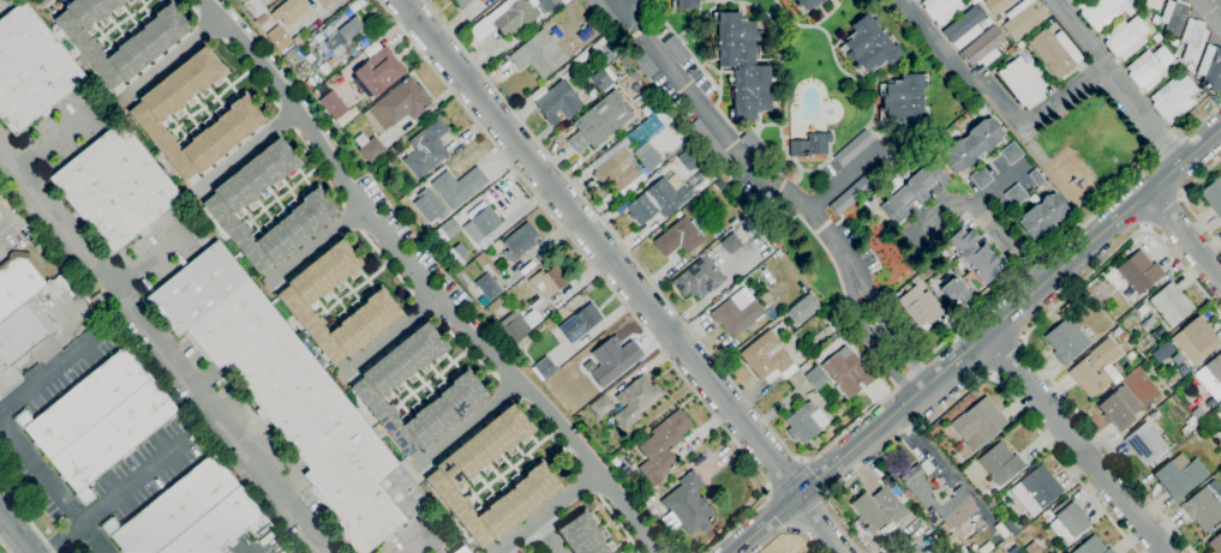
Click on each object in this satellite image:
building: (980, 0)
building: (1073, 0)
building: (327, 2)
building: (462, 2)
building: (544, 4)
building: (686, 4)
building: (808, 4)
building: (1153, 4)
building: (996, 5)
building: (253, 7)
building: (941, 8)
building: (289, 10)
building: (1101, 11)
road: (1211, 11)
road: (626, 12)
building: (604, 13)
building: (1174, 16)
building: (504, 18)
building: (1023, 18)
building: (262, 19)
building: (340, 19)
building: (1155, 19)
building: (988, 22)
building: (999, 22)
building: (1049, 22)
building: (964, 26)
building: (586, 32)
road: (1079, 32)
building: (343, 35)
building: (1125, 37)
building: (1156, 37)
building: (281, 40)
building: (1193, 40)
building: (146, 41)
building: (1174, 42)
building: (870, 44)
building: (1021, 44)
building: (983, 47)
building: (348, 48)
building: (677, 49)
building: (1011, 50)
building: (1054, 52)
building: (539, 54)
road: (174, 59)
building: (330, 62)
building: (644, 62)
building: (743, 66)
building: (324, 67)
building: (1149, 67)
building: (1211, 67)
building: (30, 68)
building: (378, 72)
building: (603, 79)
building: (1024, 80)
building: (310, 83)
road: (994, 94)
building: (1174, 97)
building: (904, 101)
building: (558, 102)
building: (400, 103)
building: (648, 107)
building: (335, 108)
building: (149, 113)
road: (1144, 113)
building: (599, 121)
road: (53, 138)
building: (752, 142)
building: (710, 144)
building: (810, 144)
building: (971, 144)
building: (426, 148)
building: (852, 148)
building: (372, 149)
road: (250, 151)
building: (1010, 152)
building: (647, 156)
building: (690, 158)
building: (617, 170)
road: (843, 175)
building: (1036, 176)
building: (981, 178)
building: (720, 185)
building: (459, 186)
building: (115, 187)
building: (860, 187)
road: (784, 188)
building: (911, 190)
building: (1014, 194)
building: (1214, 194)
building: (657, 200)
road: (1185, 200)
building: (223, 205)
road: (1165, 210)
building: (1042, 216)
road: (994, 223)
building: (481, 224)
road: (5, 226)
building: (429, 227)
building: (445, 230)
building: (681, 235)
road: (1185, 235)
building: (519, 241)
road: (315, 242)
road: (599, 246)
building: (942, 253)
building: (974, 254)
road: (149, 257)
building: (454, 257)
building: (706, 270)
building: (1139, 271)
road: (603, 277)
building: (19, 281)
road: (420, 281)
building: (549, 281)
building: (55, 287)
building: (487, 287)
building: (906, 287)
building: (956, 291)
building: (298, 296)
building: (534, 302)
building: (1171, 303)
building: (921, 307)
building: (803, 309)
building: (736, 313)
building: (40, 314)
building: (580, 323)
building: (519, 324)
building: (831, 324)
road: (391, 332)
road: (1027, 336)
building: (1065, 341)
building: (1193, 342)
building: (17, 343)
road: (977, 344)
road: (164, 345)
building: (1161, 350)
building: (767, 357)
building: (614, 359)
road: (1005, 359)
building: (543, 367)
building: (1096, 368)
building: (848, 373)
road: (48, 374)
building: (816, 377)
building: (1211, 377)
building: (1174, 378)
building: (461, 390)
building: (291, 396)
building: (635, 399)
building: (601, 405)
building: (1119, 408)
building: (98, 420)
building: (806, 421)
road: (469, 422)
building: (977, 426)
building: (1187, 427)
road: (1041, 434)
building: (1145, 443)
road: (1076, 444)
building: (663, 446)
road: (784, 446)
building: (615, 462)
building: (1000, 463)
building: (628, 471)
building: (1179, 475)
building: (537, 481)
road: (136, 482)
building: (1036, 489)
road: (52, 491)
building: (960, 498)
building: (689, 504)
building: (1204, 505)
building: (173, 509)
building: (879, 509)
building: (652, 510)
road: (546, 511)
road: (26, 519)
building: (1067, 521)
road: (820, 523)
building: (219, 525)
building: (1011, 527)
road: (17, 530)
road: (843, 533)
building: (581, 535)
road: (64, 539)
road: (541, 539)
building: (952, 541)
road: (809, 542)
building: (1216, 543)
road: (413, 545)
road: (5, 546)
building: (1093, 546)
building: (1033, 547)
building: (461, 549)
building: (960, 549)
road: (269, 552)

